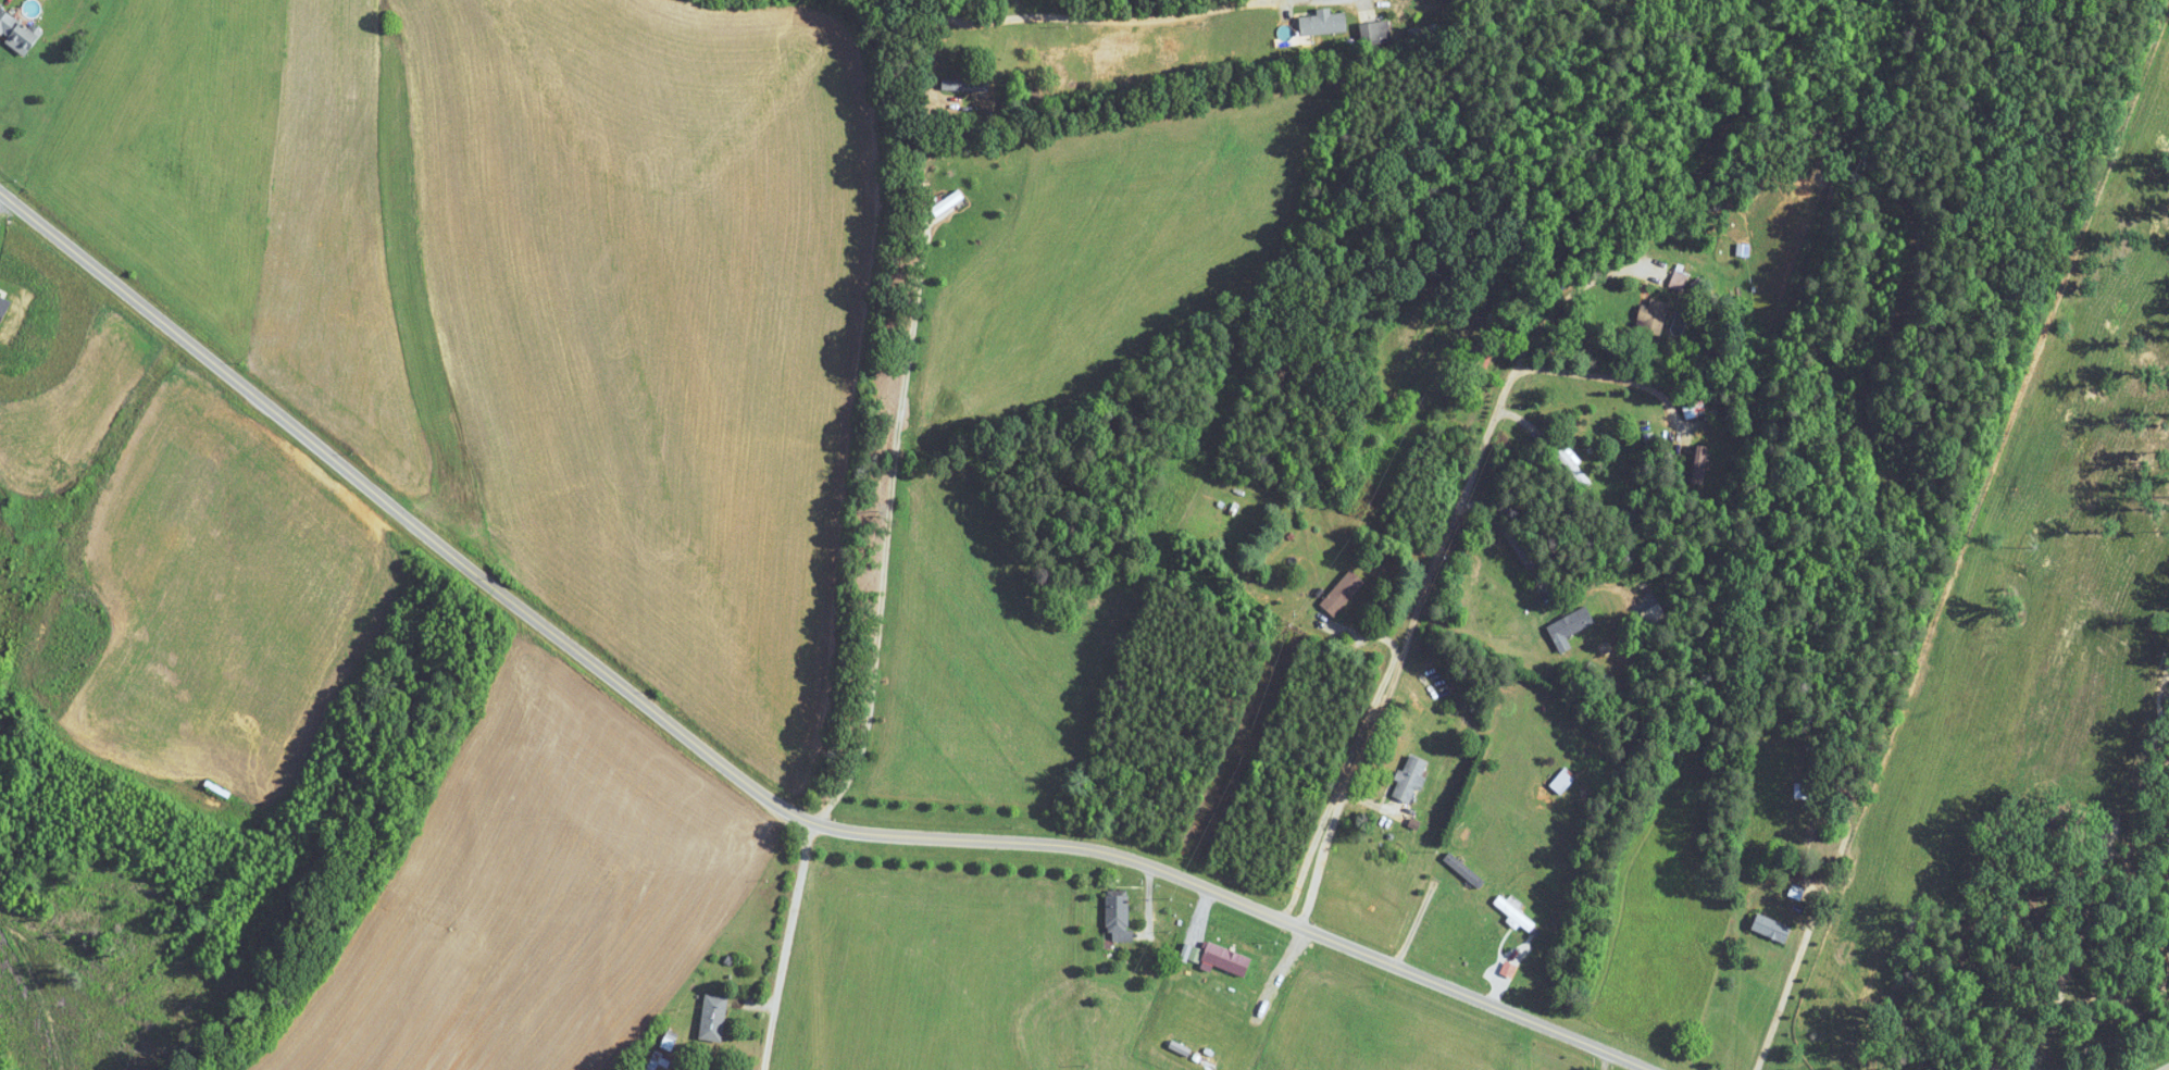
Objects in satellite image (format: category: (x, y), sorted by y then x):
road: (1274, 1)
road: (1089, 23)
building: (1323, 24)
building: (16, 33)
building: (1375, 34)
building: (1107, 55)
building: (964, 86)
building: (947, 203)
road: (1575, 290)
building: (1655, 318)
building: (1485, 361)
road: (1601, 375)
building: (1698, 464)
building: (1574, 468)
road: (887, 503)
road: (1511, 537)
building: (1343, 593)
building: (1569, 624)
road: (1404, 637)
building: (1411, 777)
building: (1561, 782)
road: (745, 787)
building: (1804, 791)
building: (1463, 870)
building: (1513, 915)
building: (1118, 919)
building: (1770, 928)
road: (784, 946)
building: (1226, 958)
building: (1267, 974)
road: (1786, 987)
building: (713, 1017)

